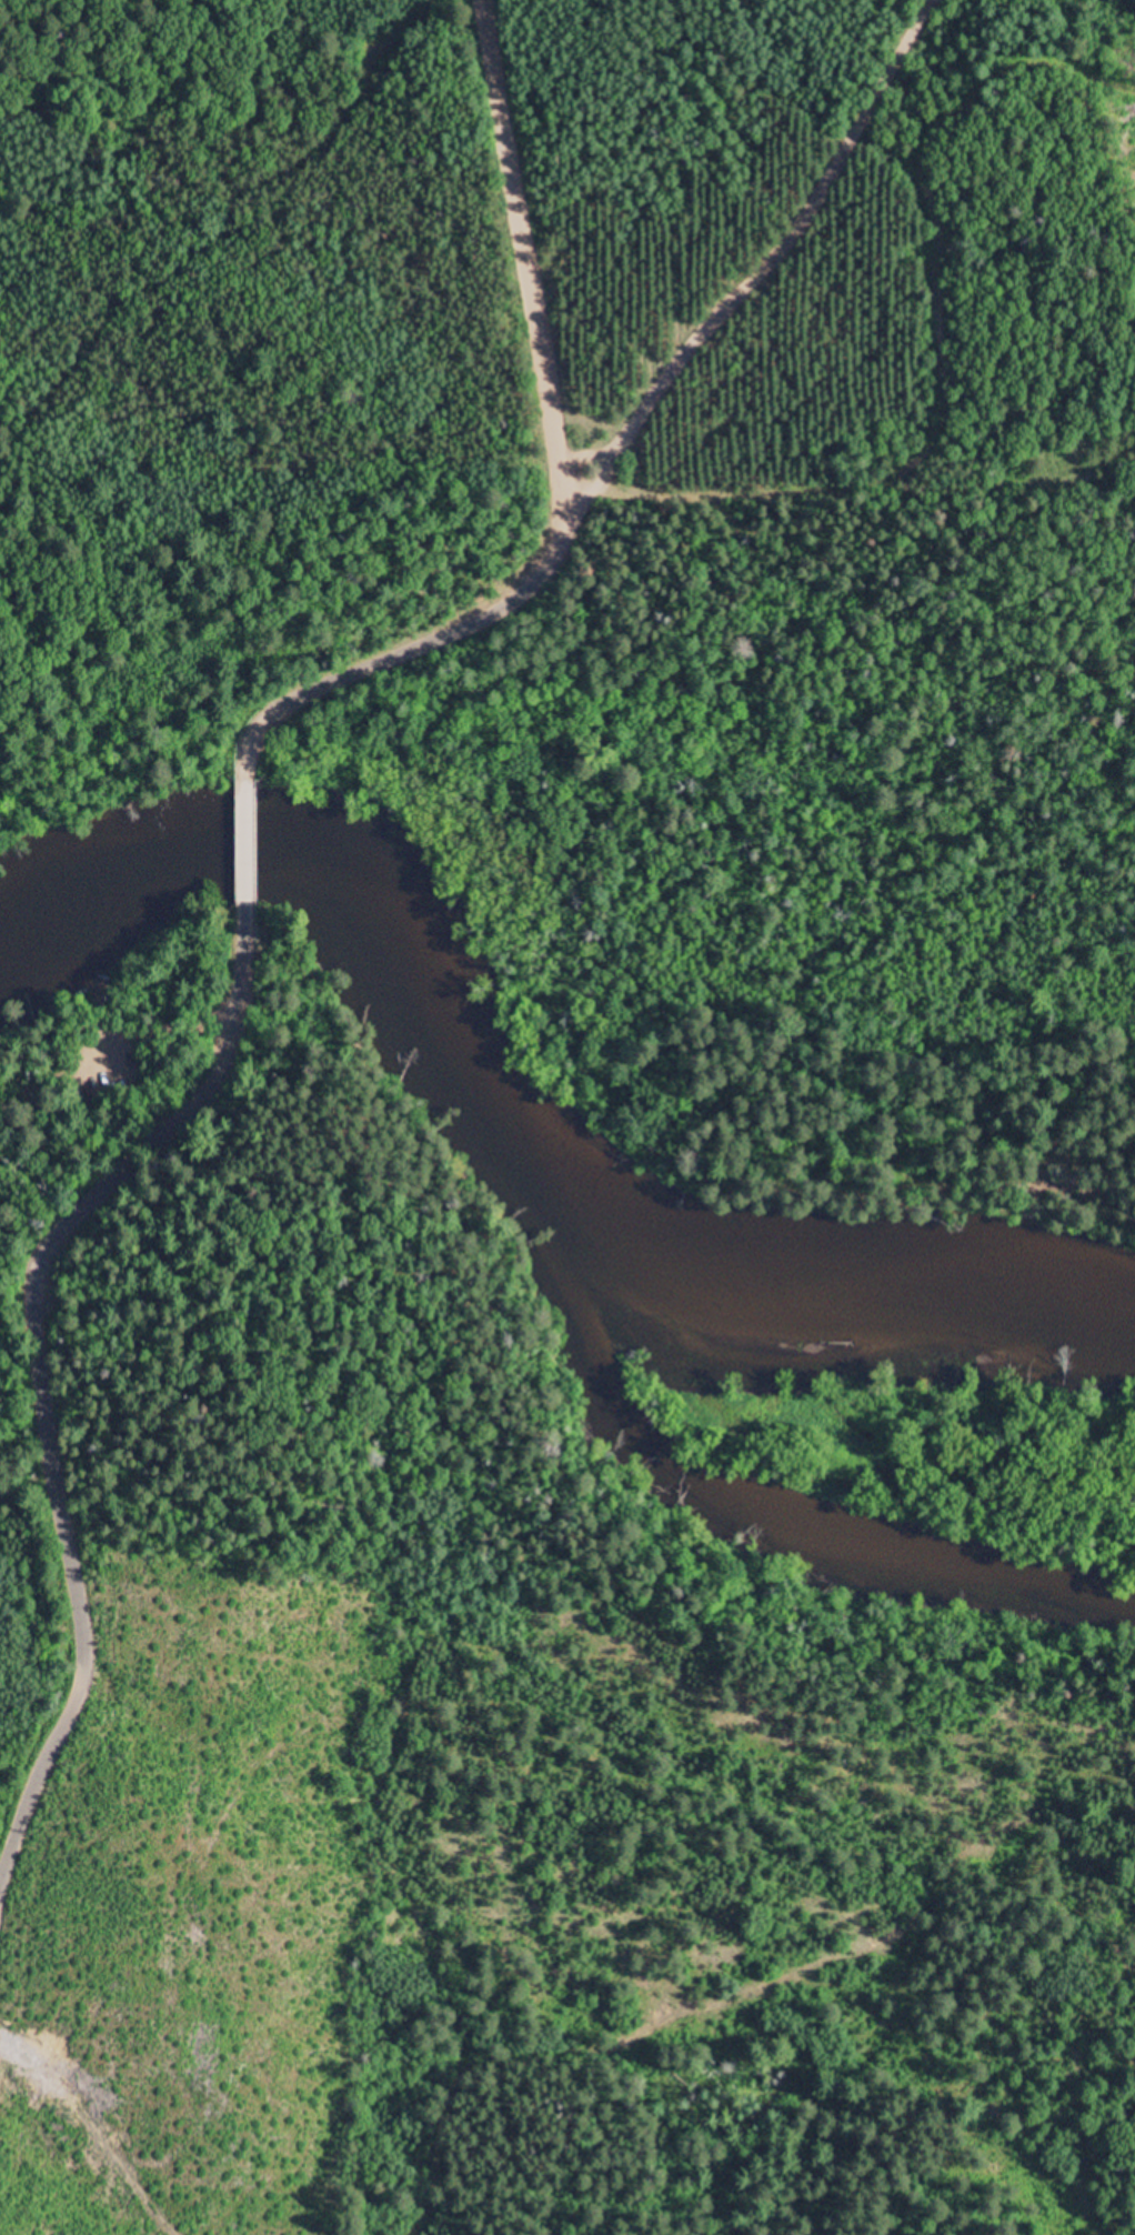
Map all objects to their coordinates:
road: (754, 255)
road: (566, 471)
road: (245, 834)
river: (519, 1085)
road: (42, 1372)

